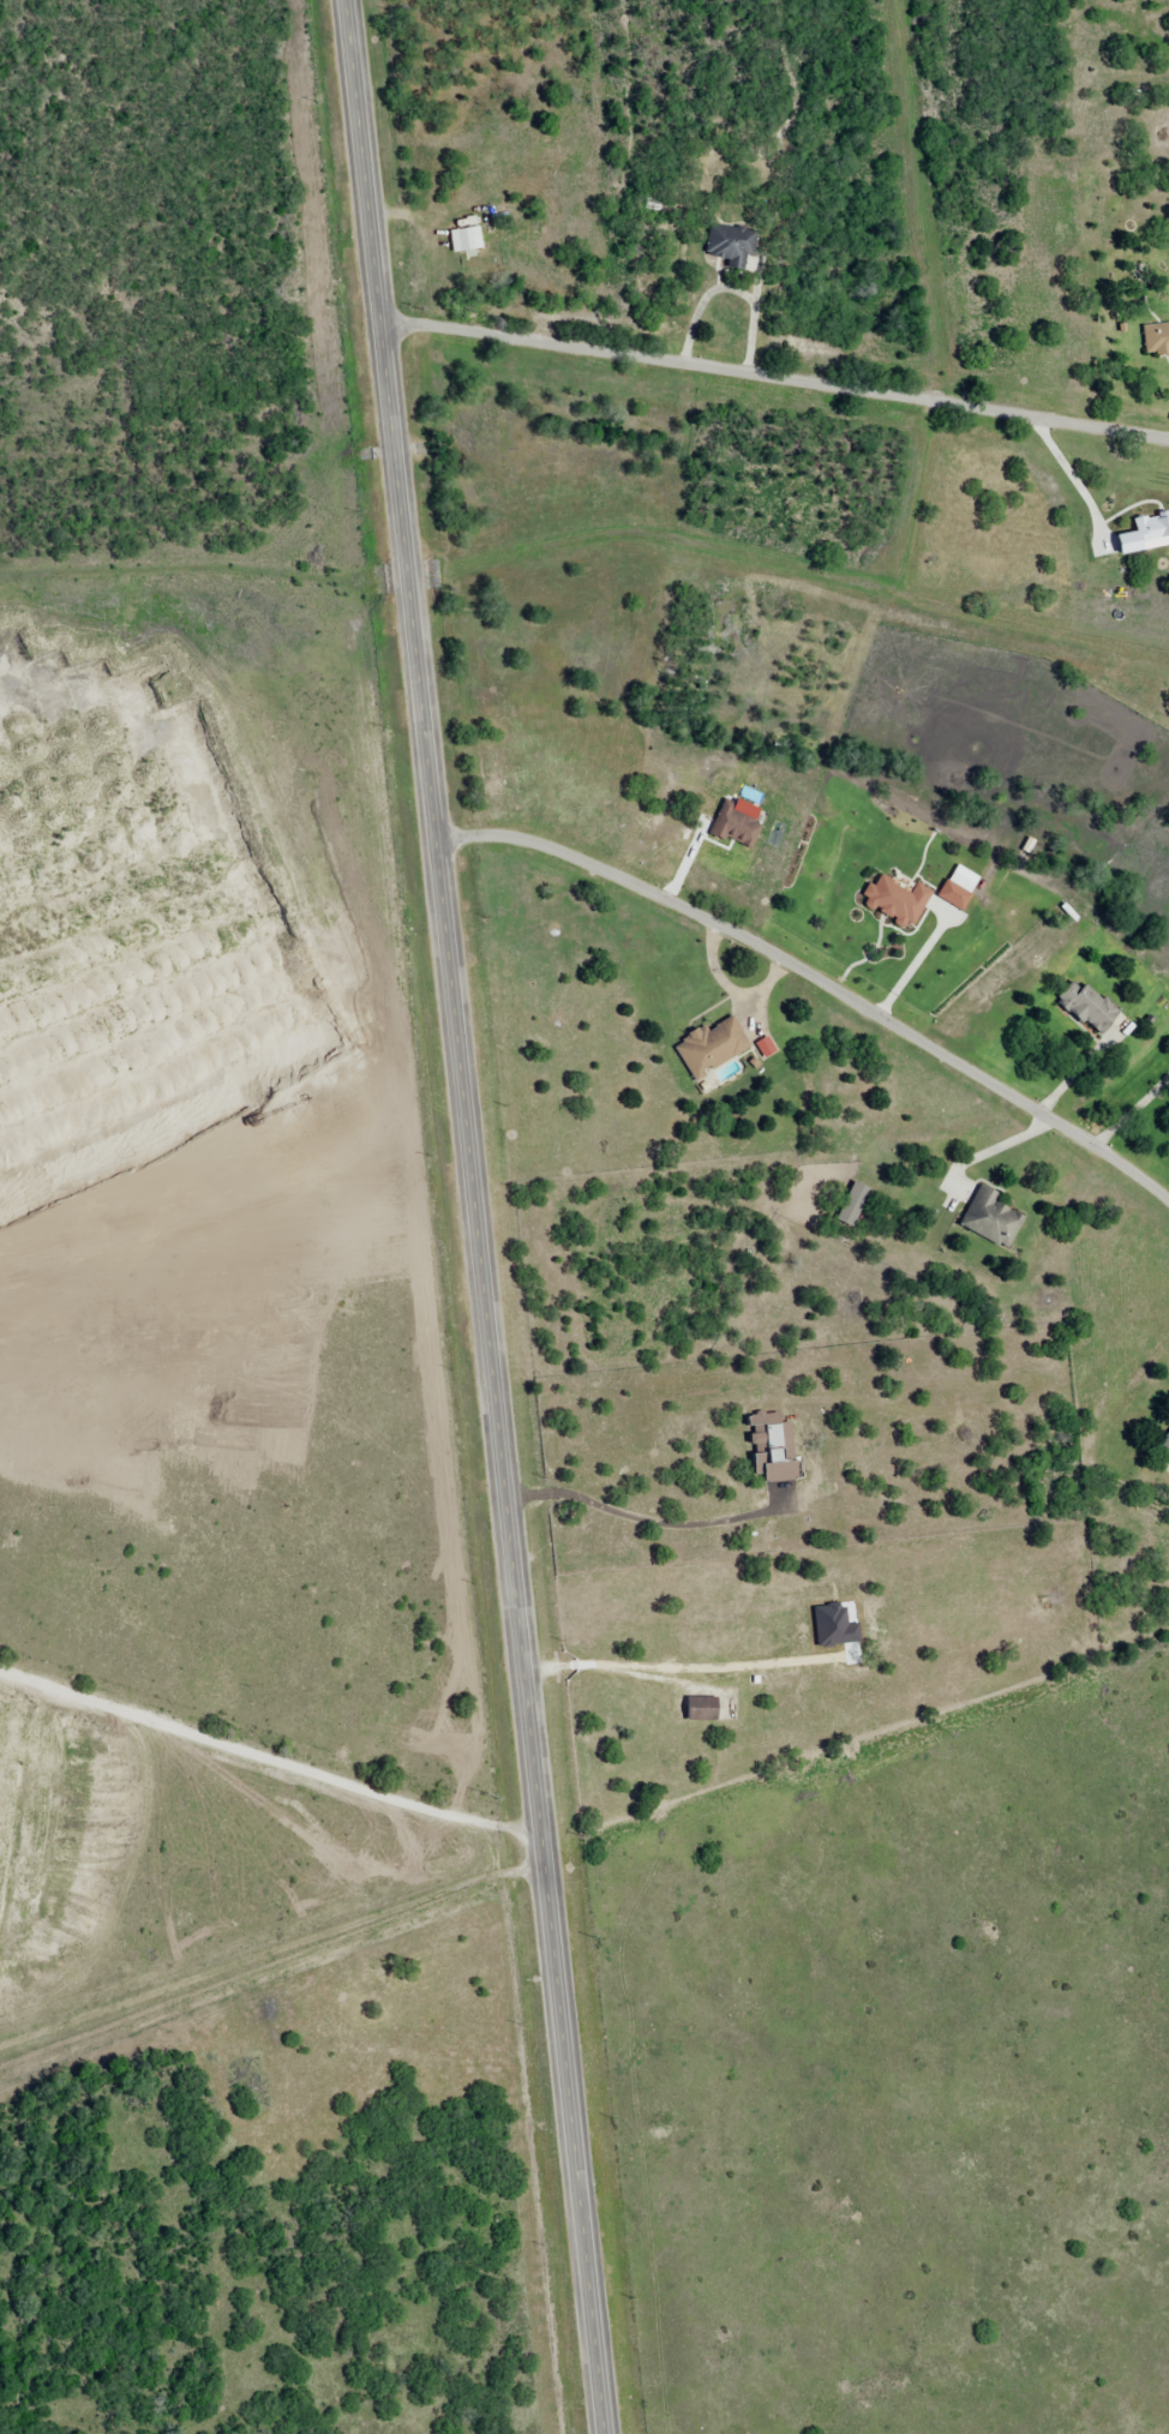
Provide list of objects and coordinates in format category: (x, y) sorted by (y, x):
road: (775, 376)
road: (814, 983)
road: (1084, 1068)
road: (1133, 1113)
road: (996, 1149)
road: (476, 1216)
road: (270, 1716)

